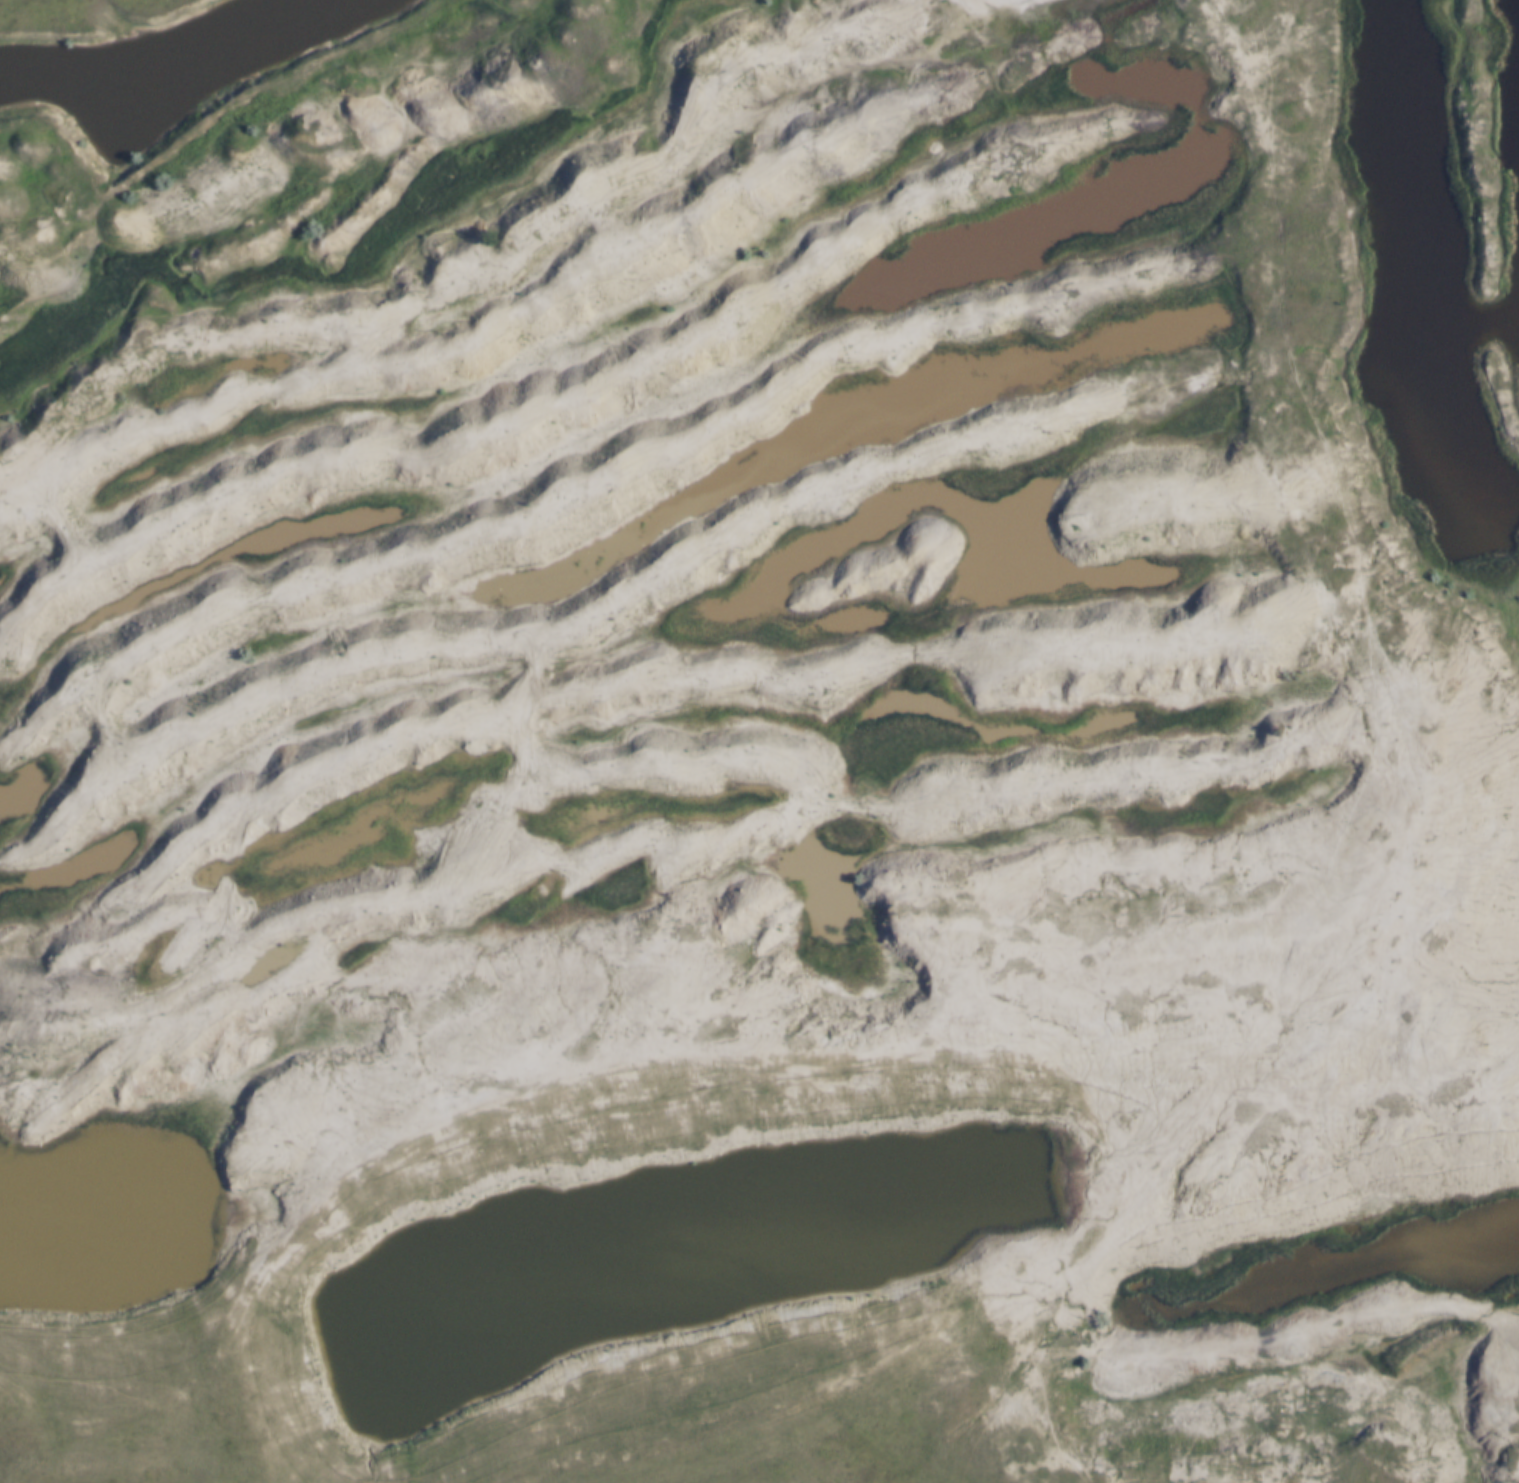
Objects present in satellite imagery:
quarry: (778, 707)
road: (708, 1401)
road: (146, 1406)

